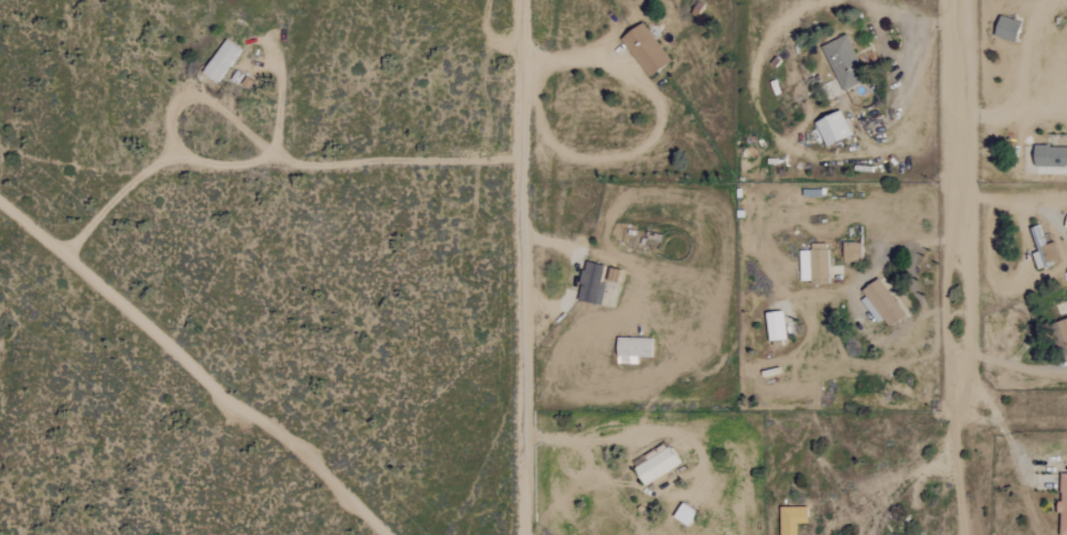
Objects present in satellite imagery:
building: (643, 49)
building: (842, 62)
building: (217, 63)
building: (831, 127)
road: (650, 139)
building: (1049, 156)
road: (313, 164)
road: (886, 249)
building: (812, 266)
road: (521, 267)
road: (970, 267)
building: (589, 282)
building: (882, 302)
building: (773, 325)
building: (1060, 336)
building: (631, 350)
road: (1005, 428)
road: (580, 440)
building: (654, 466)
road: (903, 485)
building: (1061, 505)
building: (682, 514)
building: (790, 518)

